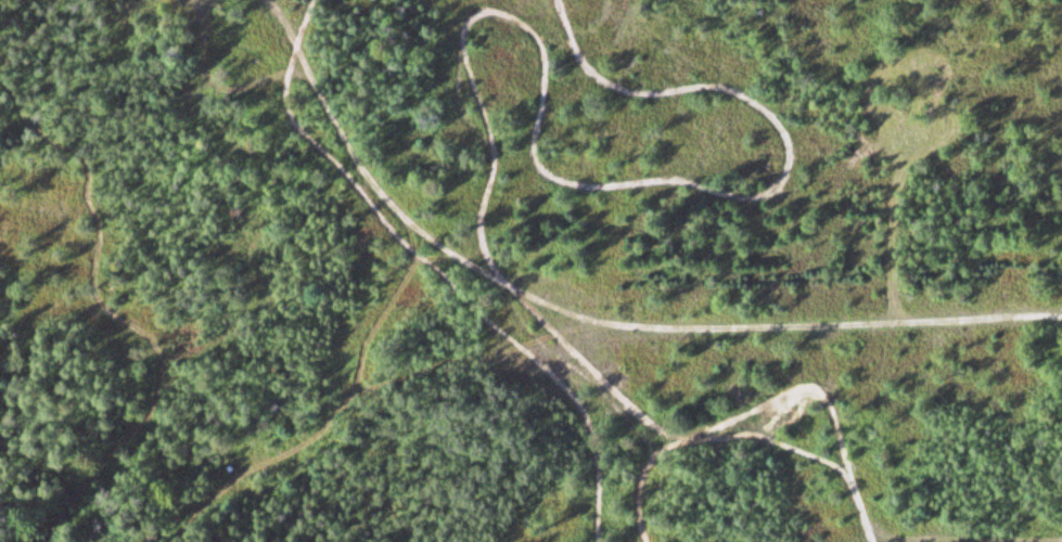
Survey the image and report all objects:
road: (220, 82)
road: (592, 318)
road: (765, 401)
road: (770, 439)

